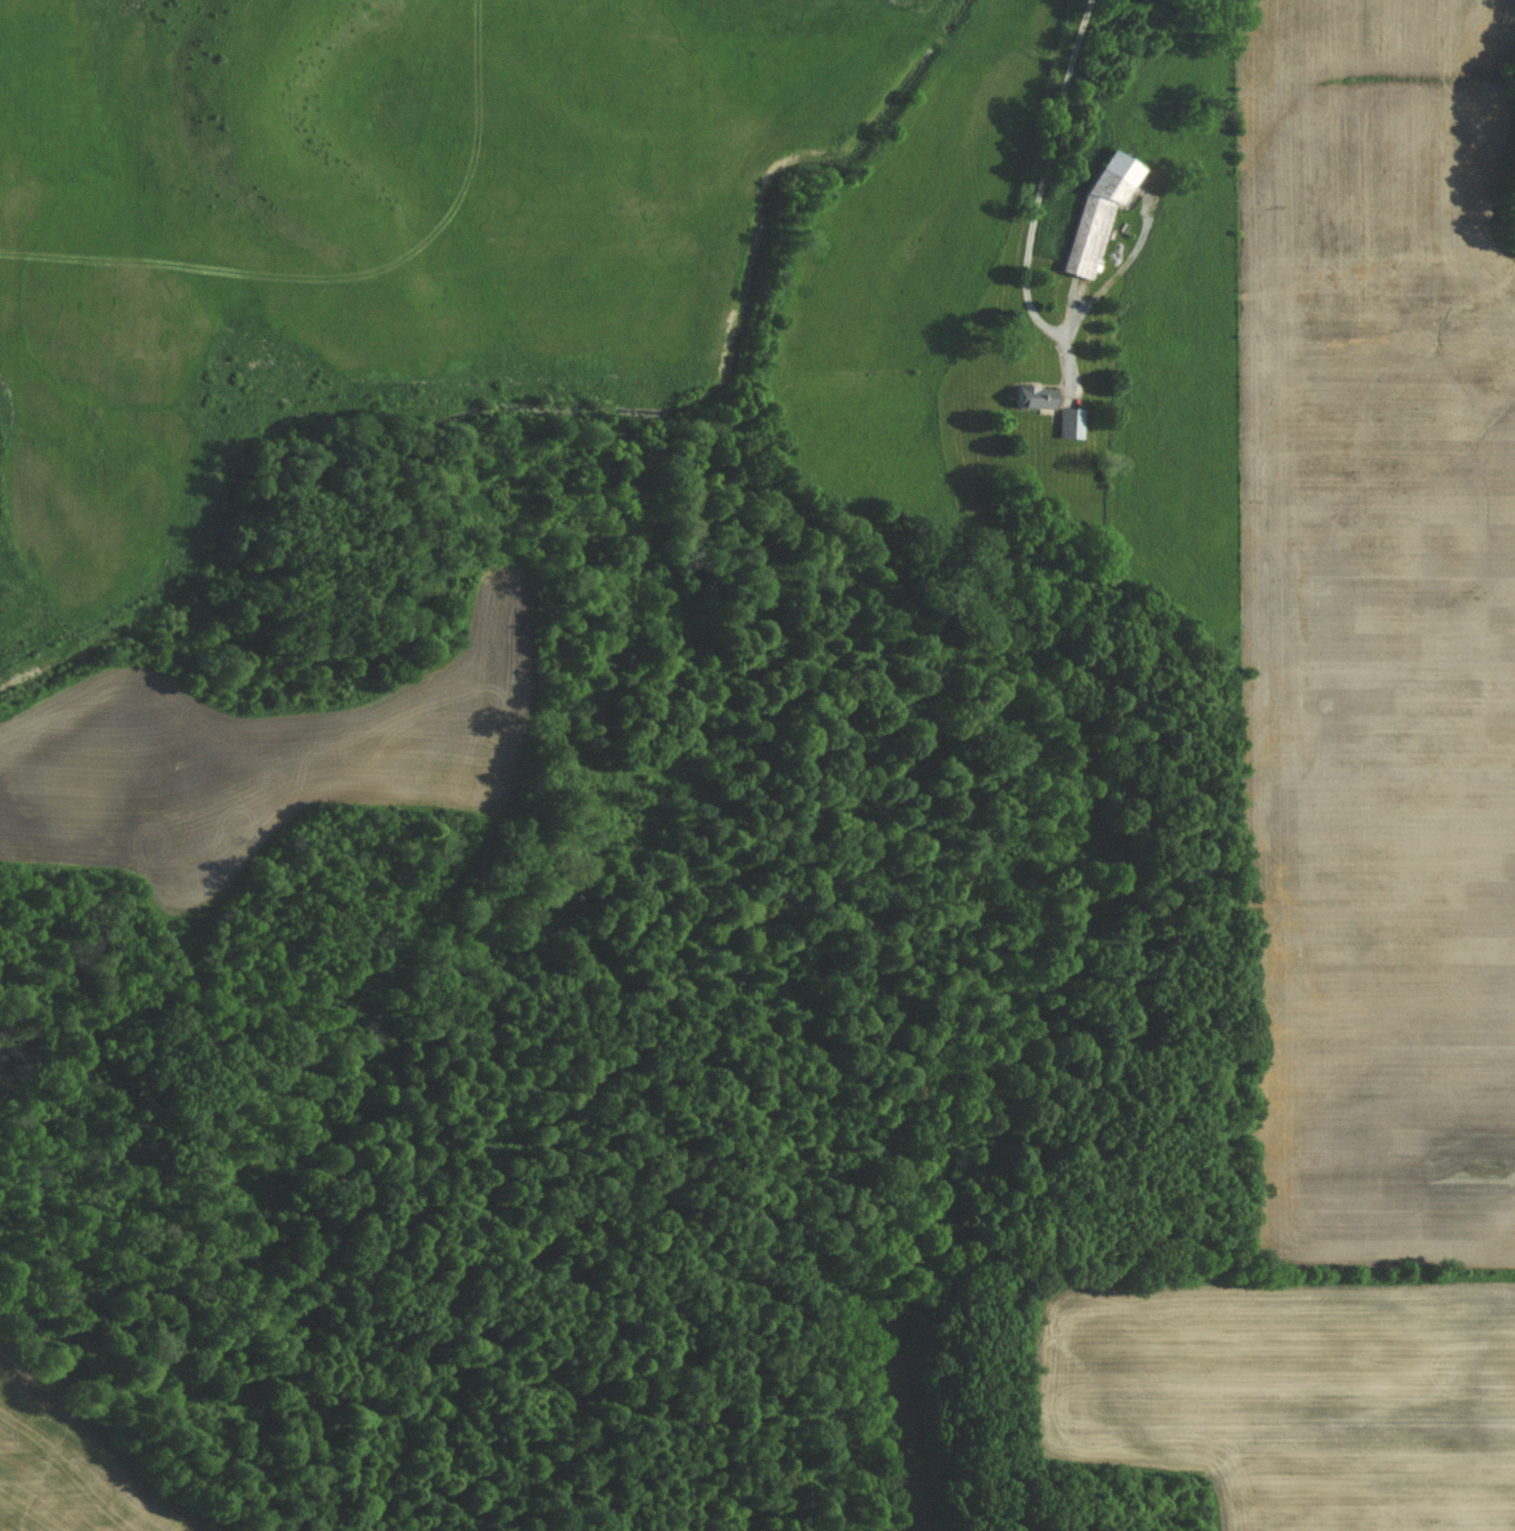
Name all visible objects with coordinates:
road: (1040, 191)
building: (1098, 216)
building: (1035, 397)
building: (1071, 424)

